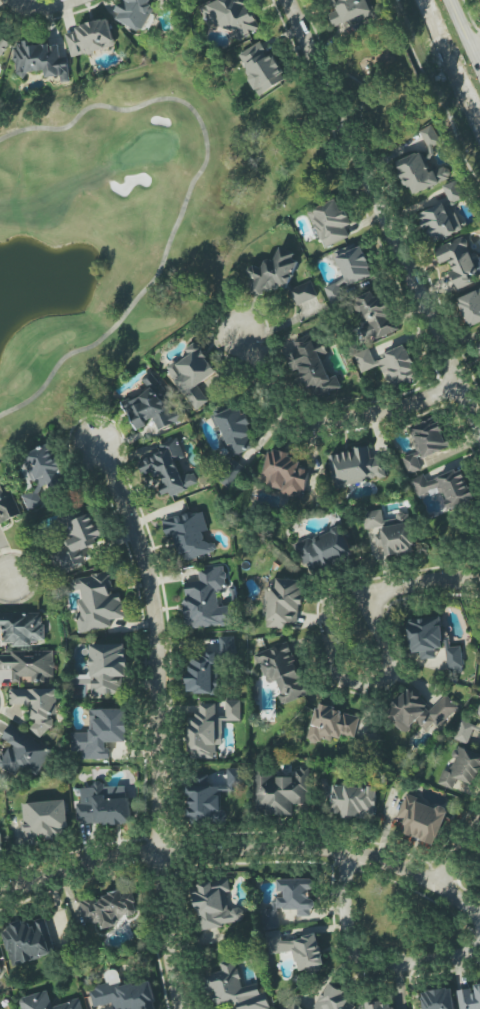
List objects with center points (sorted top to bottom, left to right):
road: (42, 6)
building: (348, 11)
building: (134, 12)
building: (233, 16)
road: (465, 31)
building: (90, 38)
building: (3, 45)
road: (477, 50)
building: (41, 60)
building: (261, 67)
road: (361, 86)
road: (376, 91)
road: (436, 97)
building: (430, 136)
building: (420, 173)
building: (453, 191)
road: (383, 212)
building: (439, 222)
building: (329, 223)
park: (110, 228)
building: (459, 261)
building: (272, 272)
building: (348, 272)
building: (303, 293)
building: (470, 307)
building: (373, 315)
building: (479, 346)
building: (389, 364)
building: (313, 366)
building: (193, 374)
building: (152, 406)
road: (327, 423)
building: (235, 431)
building: (425, 443)
building: (355, 467)
building: (169, 468)
building: (41, 473)
building: (284, 473)
building: (231, 474)
building: (446, 488)
building: (7, 504)
building: (390, 532)
building: (189, 535)
building: (80, 541)
building: (324, 549)
road: (2, 575)
road: (421, 584)
building: (206, 600)
building: (97, 601)
building: (282, 603)
building: (22, 628)
building: (425, 636)
building: (227, 645)
building: (28, 664)
building: (107, 667)
building: (283, 672)
building: (203, 674)
road: (344, 681)
building: (37, 705)
building: (421, 711)
building: (478, 711)
road: (157, 722)
building: (332, 724)
building: (209, 729)
building: (467, 731)
building: (101, 733)
building: (23, 753)
building: (462, 769)
building: (282, 791)
building: (209, 798)
building: (354, 801)
building: (103, 808)
building: (422, 819)
building: (44, 820)
building: (398, 824)
road: (245, 848)
building: (0, 850)
road: (457, 853)
building: (296, 896)
building: (215, 905)
building: (105, 909)
building: (271, 917)
building: (28, 941)
building: (298, 950)
road: (365, 964)
building: (0, 971)
building: (234, 989)
building: (126, 995)
building: (469, 997)
building: (334, 999)
building: (438, 999)
building: (48, 1002)
building: (107, 1006)
building: (296, 1006)
building: (380, 1006)

